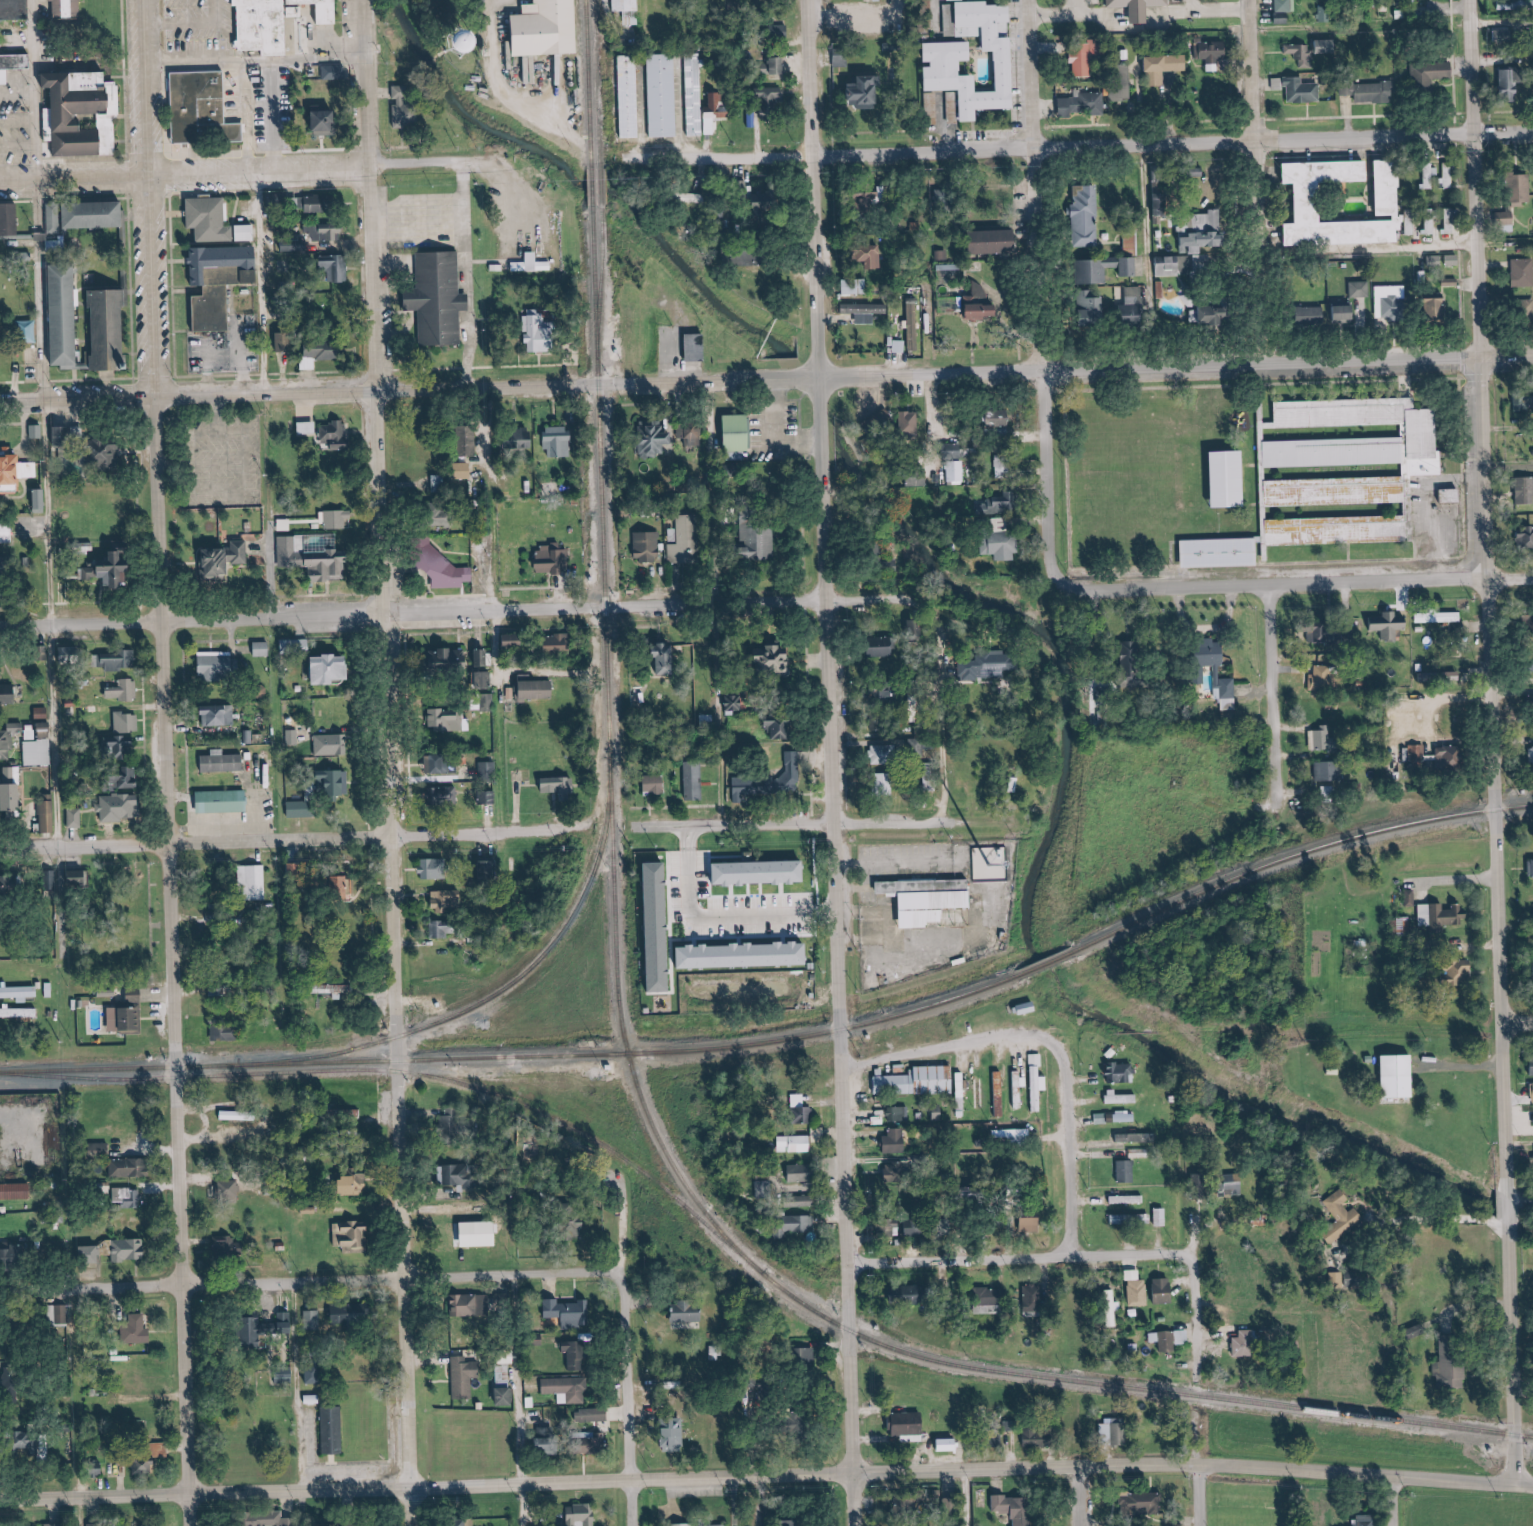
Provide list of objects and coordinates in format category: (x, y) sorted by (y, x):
building: (878, 0)
road: (93, 1)
building: (626, 5)
road: (800, 5)
building: (1286, 5)
road: (1087, 6)
road: (1091, 6)
road: (1200, 6)
building: (1145, 7)
building: (74, 9)
building: (18, 10)
building: (328, 11)
road: (1231, 11)
road: (1066, 12)
road: (1146, 12)
road: (948, 15)
road: (868, 17)
road: (191, 21)
road: (1504, 22)
building: (266, 26)
parking lot: (201, 27)
building: (554, 28)
road: (233, 30)
building: (1502, 35)
building: (4, 36)
building: (499, 37)
water tower: (471, 46)
park: (458, 50)
building: (1311, 50)
building: (1215, 53)
building: (844, 54)
building: (18, 60)
road: (262, 60)
building: (1085, 61)
building: (946, 62)
building: (778, 64)
building: (1166, 67)
building: (336, 72)
building: (1432, 73)
road: (125, 78)
railway: (593, 78)
building: (1510, 80)
road: (135, 82)
building: (1300, 88)
road: (43, 89)
road: (510, 89)
building: (1122, 90)
building: (1372, 91)
building: (869, 93)
building: (693, 94)
road: (23, 95)
building: (661, 95)
building: (628, 96)
building: (770, 98)
parking lot: (271, 103)
building: (719, 104)
building: (1084, 104)
building: (209, 106)
building: (413, 106)
building: (957, 110)
building: (89, 112)
road: (280, 115)
road: (132, 118)
road: (25, 122)
building: (333, 122)
building: (1, 142)
road: (332, 144)
road: (27, 146)
road: (1087, 147)
fountain: (212, 151)
road: (233, 152)
road: (92, 159)
road: (249, 172)
road: (178, 173)
building: (1430, 176)
building: (1446, 176)
road: (1263, 183)
railway: (598, 184)
road: (1043, 184)
building: (1530, 187)
road: (277, 189)
building: (877, 197)
building: (277, 199)
building: (1311, 199)
road: (1156, 201)
building: (768, 203)
building: (315, 205)
building: (101, 213)
building: (1087, 215)
road: (188, 216)
building: (14, 217)
building: (217, 217)
building: (1508, 217)
building: (55, 218)
building: (1449, 221)
building: (1431, 223)
building: (326, 231)
building: (253, 232)
building: (1201, 233)
road: (35, 237)
road: (5, 238)
building: (998, 241)
building: (1131, 244)
building: (873, 256)
building: (952, 258)
building: (1455, 259)
building: (1435, 261)
road: (190, 262)
building: (533, 263)
building: (230, 267)
building: (1108, 268)
building: (1522, 272)
road: (141, 274)
road: (476, 276)
road: (271, 283)
building: (857, 286)
road: (181, 287)
building: (1358, 289)
road: (90, 290)
road: (138, 294)
building: (441, 298)
building: (1131, 299)
building: (1390, 302)
building: (983, 305)
building: (1090, 307)
building: (219, 310)
building: (866, 311)
building: (1344, 312)
building: (71, 313)
building: (1217, 314)
building: (1312, 315)
building: (915, 325)
building: (32, 329)
building: (116, 329)
building: (547, 329)
building: (285, 342)
building: (704, 343)
building: (324, 350)
road: (673, 356)
road: (96, 358)
road: (548, 358)
road: (581, 365)
road: (486, 367)
road: (88, 368)
road: (167, 378)
road: (285, 378)
road: (766, 379)
road: (119, 380)
road: (119, 384)
road: (565, 404)
building: (1520, 404)
road: (524, 406)
road: (678, 418)
road: (721, 418)
building: (1003, 418)
building: (884, 420)
building: (911, 422)
building: (309, 427)
road: (211, 428)
building: (745, 429)
building: (699, 430)
road: (785, 432)
road: (494, 433)
building: (67, 436)
building: (338, 436)
building: (661, 436)
building: (566, 439)
building: (474, 440)
building: (524, 441)
building: (1351, 450)
building: (110, 453)
road: (212, 459)
building: (1003, 466)
building: (468, 467)
building: (13, 470)
building: (956, 472)
building: (1235, 475)
road: (1055, 481)
building: (449, 483)
road: (255, 485)
building: (1526, 490)
building: (1451, 495)
building: (38, 498)
building: (997, 503)
road: (59, 513)
road: (230, 516)
building: (333, 519)
building: (7, 533)
road: (504, 543)
building: (655, 545)
building: (680, 545)
building: (1005, 547)
road: (268, 548)
building: (1227, 552)
road: (465, 553)
building: (324, 555)
building: (559, 557)
building: (230, 558)
road: (280, 563)
building: (448, 565)
road: (490, 568)
road: (437, 572)
road: (1303, 584)
road: (537, 588)
road: (570, 588)
road: (1488, 594)
road: (423, 595)
road: (459, 610)
building: (913, 618)
road: (447, 633)
road: (470, 639)
building: (518, 641)
building: (563, 642)
building: (297, 646)
building: (885, 647)
building: (263, 649)
building: (780, 655)
building: (462, 659)
building: (122, 661)
building: (1526, 663)
building: (670, 664)
building: (991, 665)
building: (220, 667)
building: (336, 669)
building: (1211, 669)
road: (510, 672)
building: (488, 680)
building: (1322, 683)
road: (1281, 686)
building: (538, 690)
building: (126, 691)
building: (10, 694)
building: (891, 696)
road: (954, 697)
building: (735, 702)
building: (1526, 708)
building: (43, 714)
building: (220, 716)
building: (449, 720)
building: (1402, 720)
building: (128, 723)
road: (419, 728)
building: (784, 728)
road: (66, 736)
building: (1321, 742)
building: (333, 745)
building: (125, 746)
building: (919, 747)
railway: (609, 751)
building: (40, 753)
building: (886, 754)
building: (1448, 760)
road: (170, 762)
building: (225, 762)
road: (839, 762)
road: (390, 763)
building: (444, 764)
building: (489, 771)
building: (1326, 772)
building: (14, 775)
building: (133, 780)
building: (695, 781)
building: (770, 782)
building: (340, 783)
building: (657, 784)
building: (561, 787)
building: (445, 796)
building: (15, 797)
building: (489, 798)
building: (225, 801)
building: (120, 808)
building: (302, 809)
building: (48, 817)
building: (76, 818)
road: (949, 818)
road: (787, 823)
road: (382, 837)
road: (84, 847)
road: (689, 853)
railway: (1297, 854)
road: (859, 859)
building: (1529, 868)
building: (435, 869)
building: (490, 869)
building: (296, 870)
building: (765, 873)
building: (80, 880)
building: (256, 880)
building: (345, 885)
building: (13, 886)
building: (934, 896)
building: (450, 900)
road: (860, 909)
building: (1437, 917)
road: (751, 919)
building: (663, 928)
building: (444, 929)
road: (979, 939)
building: (748, 955)
railway: (1048, 962)
building: (1448, 973)
building: (338, 989)
building: (218, 991)
railway: (496, 992)
building: (20, 993)
building: (137, 995)
building: (20, 1013)
building: (133, 1019)
road: (1518, 1022)
building: (231, 1029)
road: (949, 1046)
railway: (635, 1053)
road: (1455, 1065)
building: (1389, 1066)
building: (1529, 1067)
railway: (121, 1068)
building: (1121, 1073)
railway: (67, 1076)
railway: (67, 1081)
building: (1040, 1081)
building: (923, 1082)
railway: (462, 1086)
building: (1021, 1087)
building: (1529, 1090)
building: (1002, 1093)
building: (803, 1109)
building: (897, 1113)
building: (241, 1115)
building: (1530, 1121)
building: (452, 1123)
building: (1014, 1132)
building: (897, 1141)
building: (797, 1143)
building: (104, 1148)
road: (1060, 1154)
building: (1532, 1159)
building: (132, 1167)
building: (898, 1172)
building: (802, 1173)
building: (464, 1175)
building: (360, 1184)
building: (1231, 1185)
building: (231, 1189)
building: (765, 1190)
building: (17, 1191)
building: (129, 1196)
road: (1513, 1209)
building: (1159, 1218)
building: (802, 1223)
building: (1033, 1224)
building: (1342, 1226)
building: (919, 1228)
building: (889, 1230)
building: (483, 1233)
building: (354, 1235)
building: (230, 1247)
building: (132, 1249)
building: (14, 1254)
building: (93, 1254)
road: (1018, 1256)
road: (311, 1280)
building: (1163, 1292)
building: (909, 1293)
building: (996, 1297)
building: (1035, 1298)
building: (501, 1299)
building: (472, 1305)
building: (688, 1311)
building: (571, 1312)
building: (354, 1313)
building: (59, 1314)
road: (1194, 1315)
building: (314, 1320)
building: (269, 1328)
building: (140, 1329)
building: (1171, 1340)
building: (1244, 1345)
building: (579, 1354)
road: (1516, 1357)
road: (626, 1373)
building: (316, 1374)
building: (1446, 1374)
building: (286, 1376)
building: (466, 1376)
building: (14, 1380)
railway: (1122, 1387)
building: (770, 1388)
building: (569, 1389)
building: (506, 1390)
road: (517, 1400)
building: (594, 1415)
building: (910, 1426)
building: (336, 1429)
building: (676, 1432)
building: (1107, 1434)
building: (1040, 1437)
building: (553, 1441)
building: (602, 1443)
building: (950, 1444)
building: (38, 1447)
building: (146, 1467)
road: (759, 1476)
road: (1525, 1484)
road: (1201, 1495)
road: (1078, 1496)
road: (1394, 1501)
building: (1020, 1508)
road: (78, 1512)
building: (582, 1514)
building: (272, 1519)
building: (1362, 1521)
building: (800, 1522)
building: (54, 1525)
building: (144, 1525)
building: (705, 1525)

